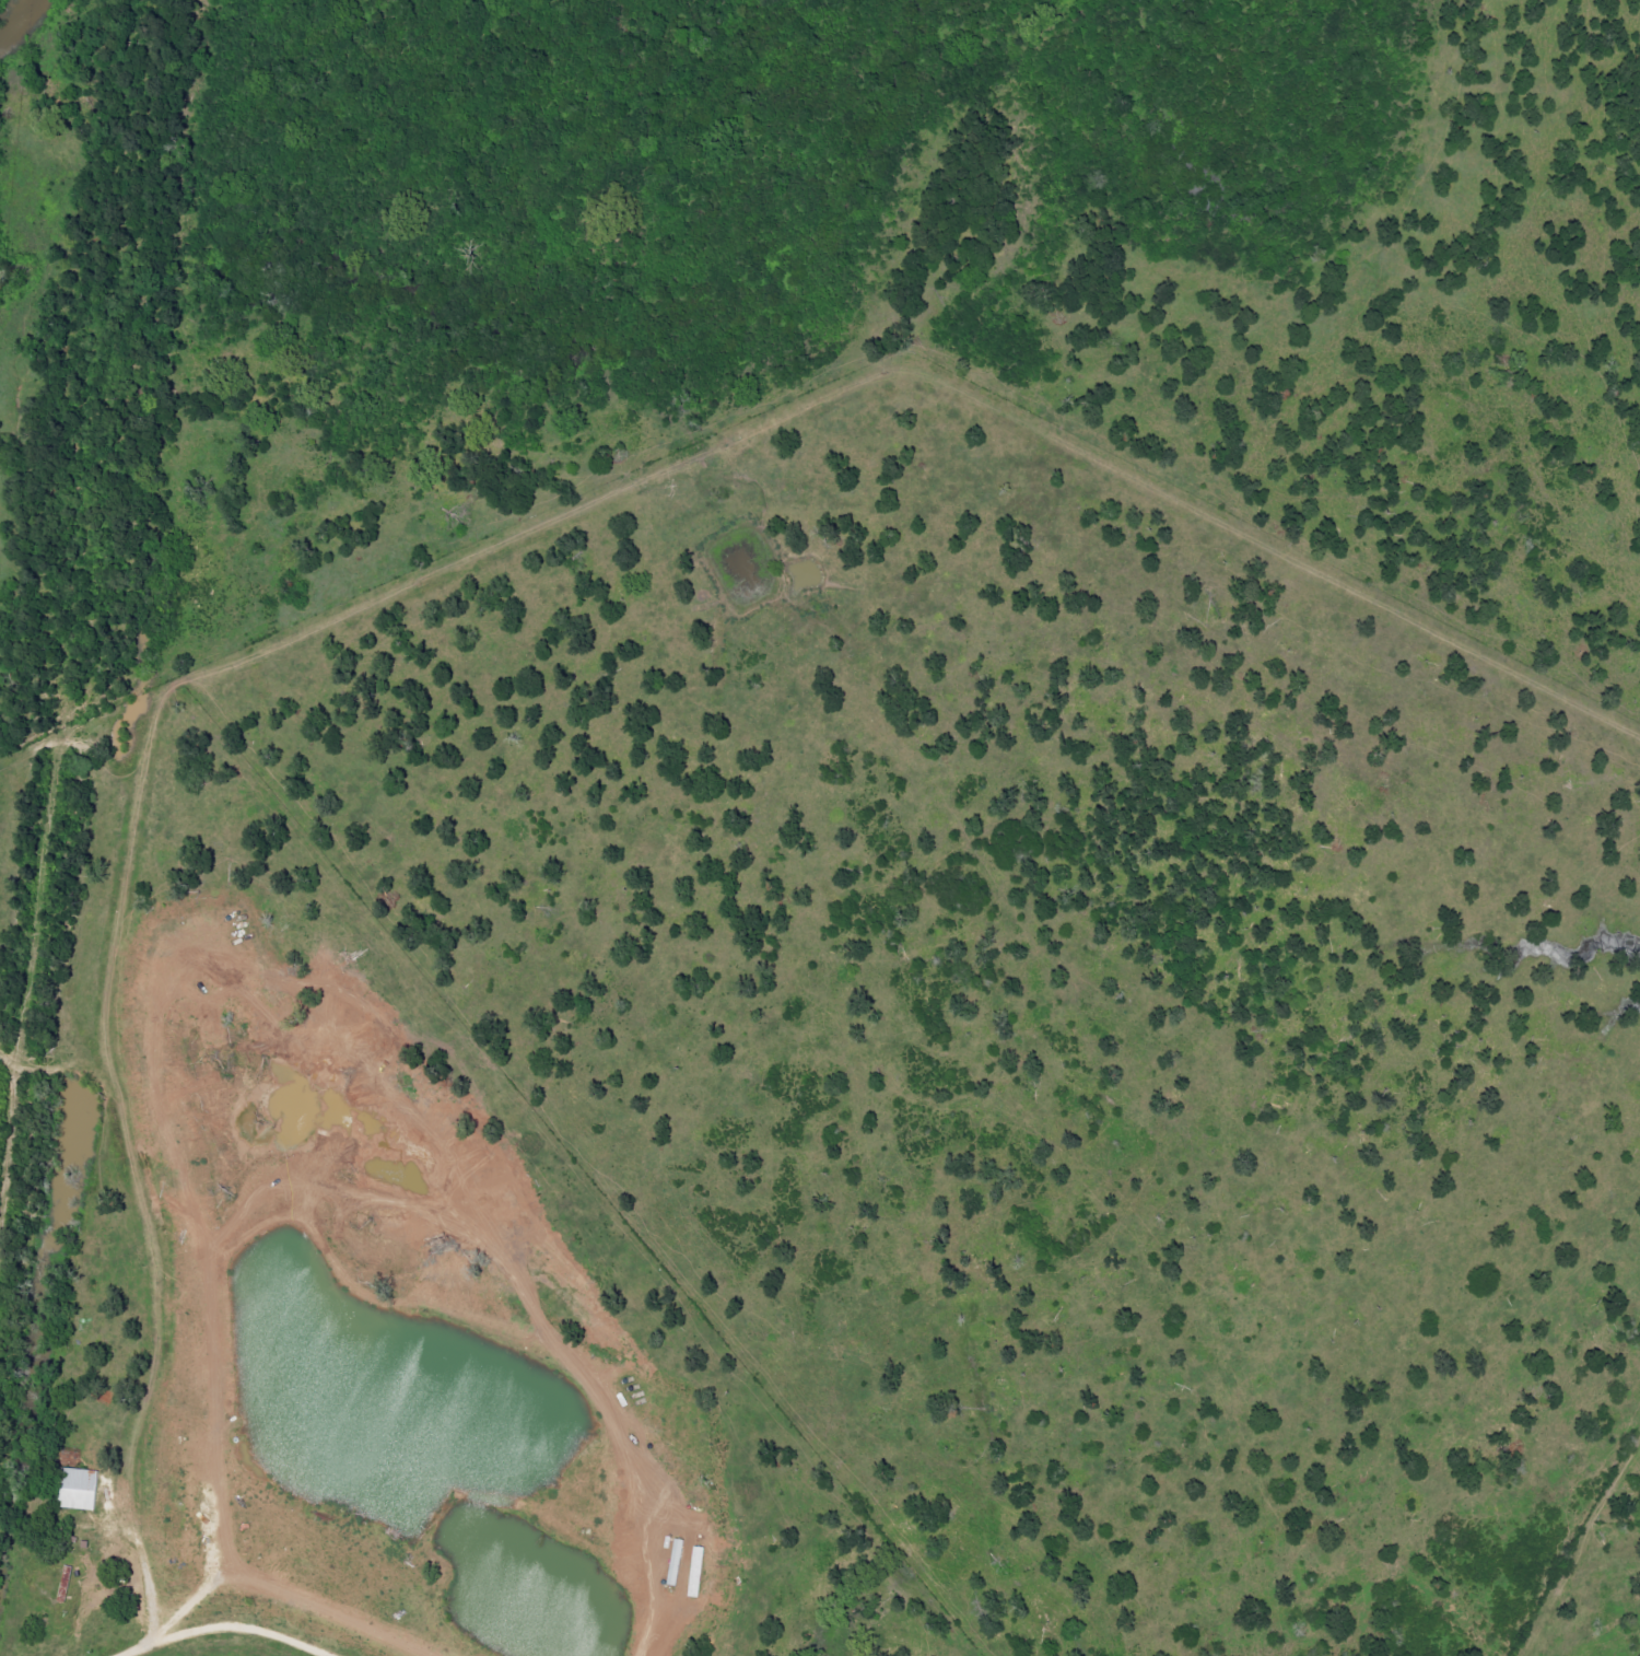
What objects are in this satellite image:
railway: (79, 617)
building: (81, 1489)
road: (224, 1625)

